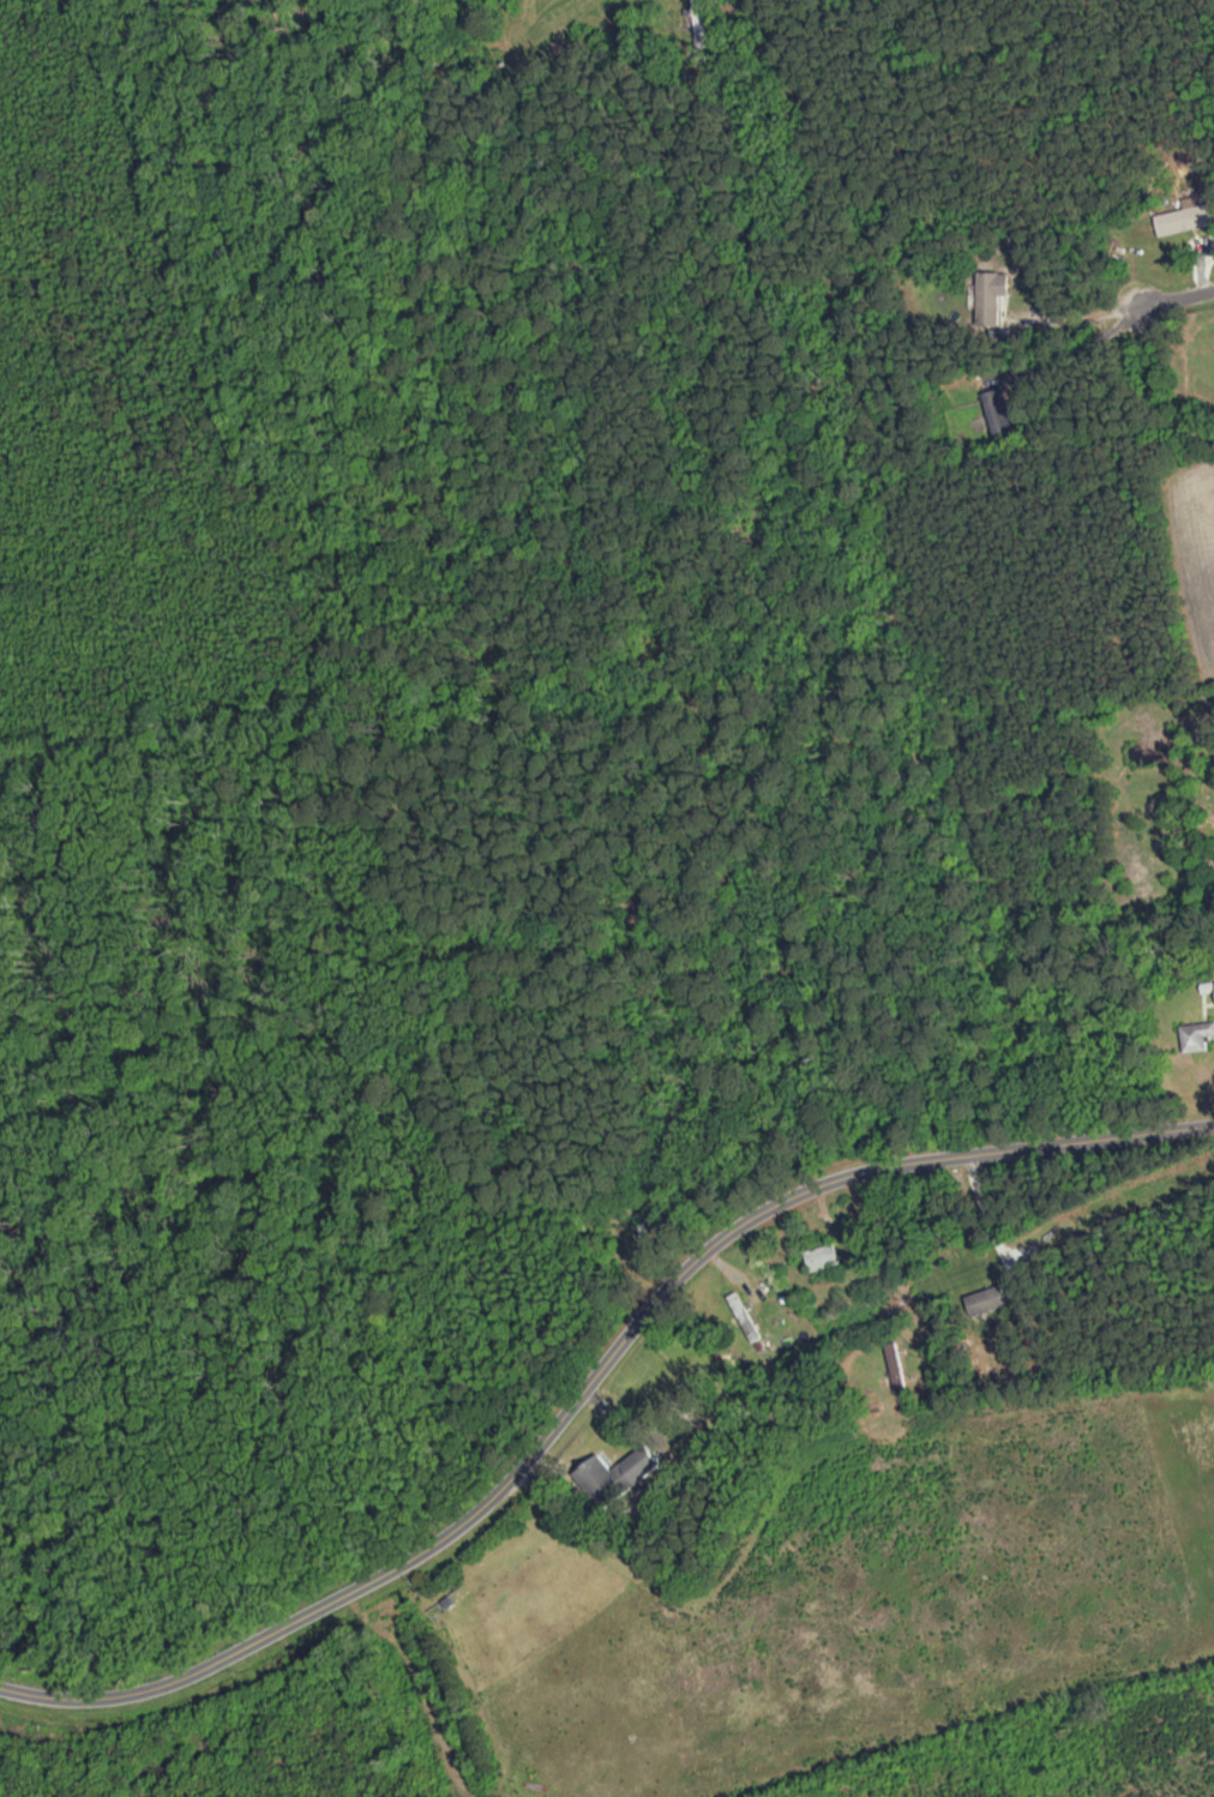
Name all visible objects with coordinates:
building: (701, 19)
building: (1185, 220)
building: (994, 296)
road: (1159, 299)
building: (1003, 413)
building: (1198, 1038)
building: (649, 1233)
building: (824, 1258)
building: (897, 1369)
road: (593, 1383)
building: (620, 1476)

